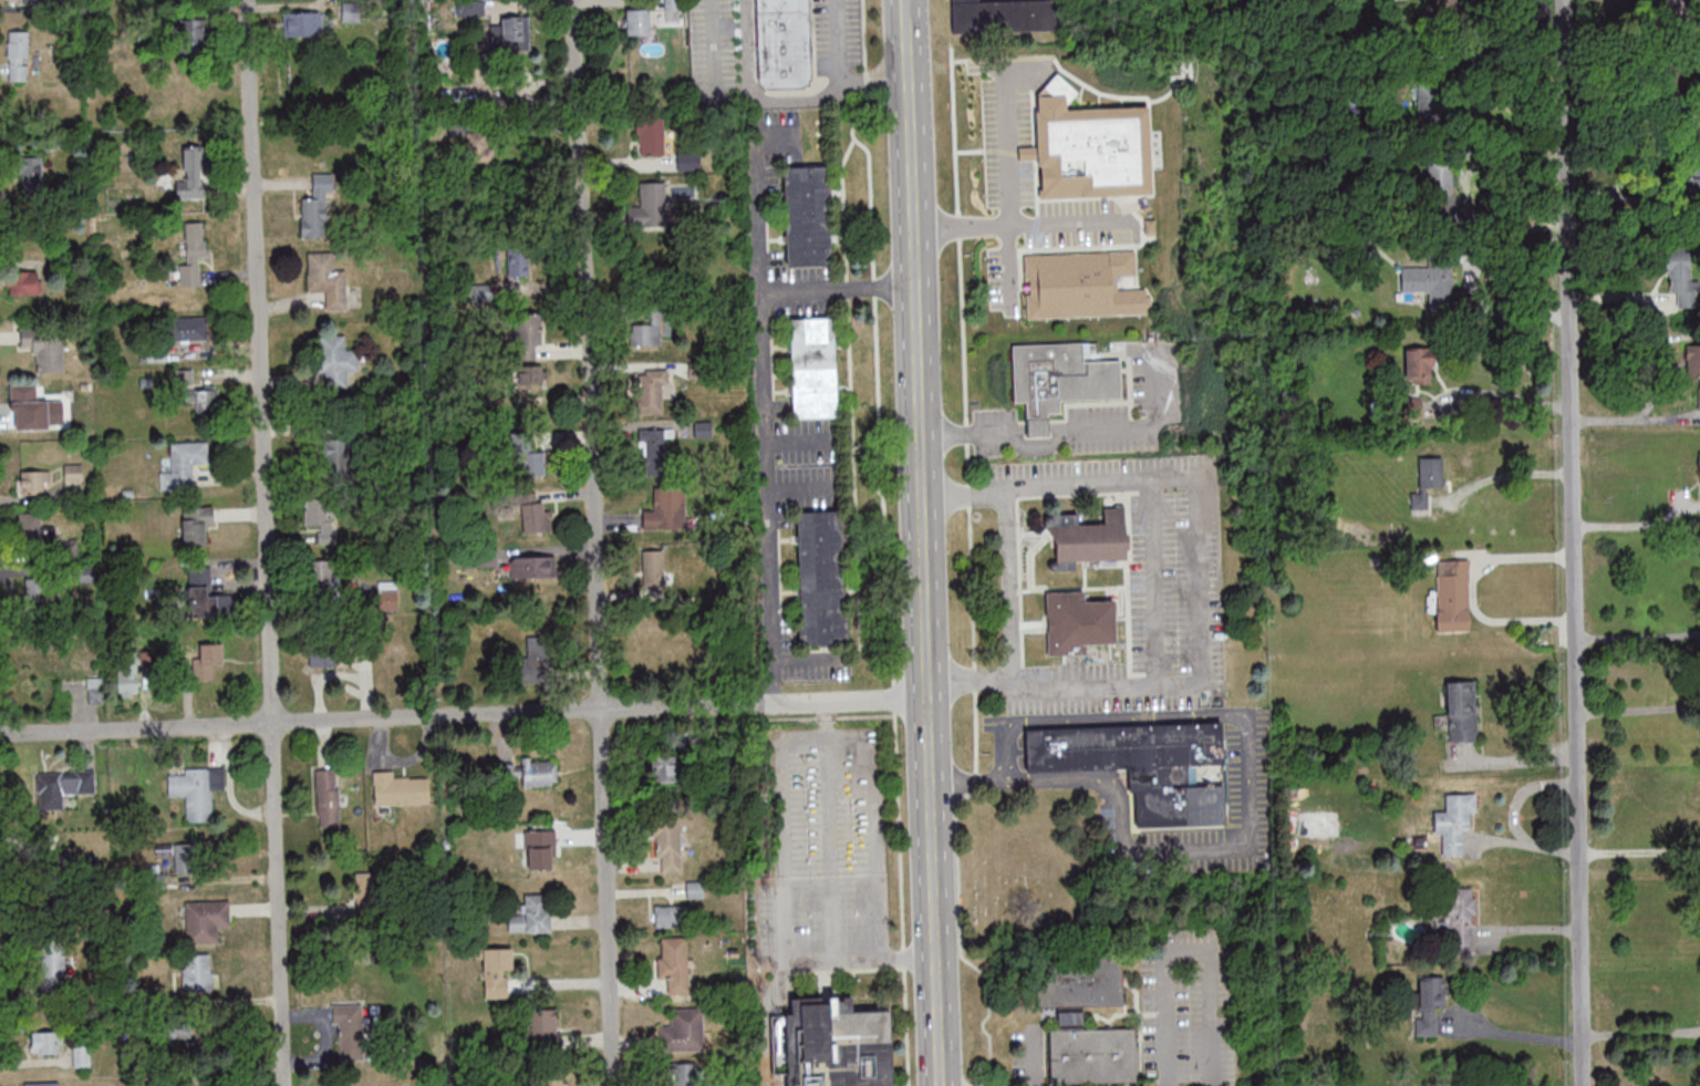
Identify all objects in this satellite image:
building: (20, 1)
building: (1673, 3)
building: (1443, 4)
building: (464, 8)
road: (908, 9)
building: (1004, 15)
building: (637, 21)
building: (300, 23)
building: (516, 32)
building: (190, 33)
road: (862, 34)
building: (782, 43)
building: (18, 55)
road: (877, 77)
building: (1432, 99)
road: (775, 100)
building: (651, 136)
building: (1530, 145)
building: (1089, 146)
building: (480, 147)
building: (688, 161)
building: (29, 173)
building: (193, 175)
road: (1629, 177)
road: (1007, 182)
building: (1689, 184)
building: (1441, 192)
road: (758, 200)
building: (480, 205)
building: (317, 206)
building: (649, 206)
building: (808, 215)
road: (1019, 225)
building: (193, 254)
building: (518, 262)
building: (326, 277)
building: (1685, 278)
building: (28, 281)
building: (1429, 283)
building: (1082, 285)
building: (483, 291)
building: (188, 329)
building: (649, 329)
building: (527, 334)
building: (44, 345)
building: (335, 359)
building: (1693, 362)
building: (1418, 365)
building: (813, 366)
road: (1660, 371)
building: (532, 374)
building: (183, 379)
building: (1059, 380)
building: (651, 391)
road: (1504, 393)
building: (205, 400)
building: (41, 403)
road: (765, 423)
building: (702, 428)
road: (1072, 431)
road: (1058, 432)
road: (1015, 433)
road: (1036, 433)
building: (653, 447)
building: (335, 452)
building: (527, 456)
building: (184, 464)
building: (73, 474)
building: (1431, 474)
building: (32, 484)
building: (665, 509)
building: (321, 518)
building: (537, 519)
road: (1636, 524)
building: (196, 525)
building: (40, 538)
building: (1088, 539)
road: (1199, 539)
road: (268, 542)
road: (595, 542)
road: (1574, 542)
road: (926, 551)
building: (533, 567)
building: (653, 567)
building: (321, 573)
building: (821, 577)
road: (1153, 583)
road: (1473, 587)
road: (1014, 588)
building: (1452, 594)
building: (43, 596)
building: (205, 596)
building: (387, 596)
building: (1077, 622)
building: (668, 648)
building: (323, 655)
building: (205, 660)
building: (535, 660)
building: (126, 673)
road: (975, 683)
building: (94, 690)
road: (1639, 710)
building: (1461, 711)
road: (466, 715)
road: (827, 717)
road: (1516, 758)
building: (1146, 766)
building: (664, 767)
building: (539, 772)
road: (964, 782)
building: (62, 786)
road: (1247, 788)
building: (400, 789)
building: (197, 790)
building: (328, 797)
road: (1515, 814)
building: (1454, 820)
building: (667, 842)
building: (540, 849)
road: (1639, 852)
building: (184, 858)
park: (1012, 882)
building: (695, 889)
road: (833, 898)
building: (531, 914)
building: (672, 914)
building: (1454, 918)
building: (206, 920)
road: (1188, 948)
building: (673, 963)
building: (51, 964)
road: (850, 969)
building: (197, 972)
building: (497, 973)
building: (1078, 982)
building: (1429, 1003)
road: (986, 1016)
road: (905, 1025)
building: (542, 1028)
building: (349, 1031)
building: (683, 1031)
road: (1641, 1033)
road: (1524, 1037)
building: (49, 1040)
building: (838, 1041)
building: (1090, 1053)
building: (82, 1056)
building: (685, 1074)
building: (552, 1079)
building: (42, 1084)

